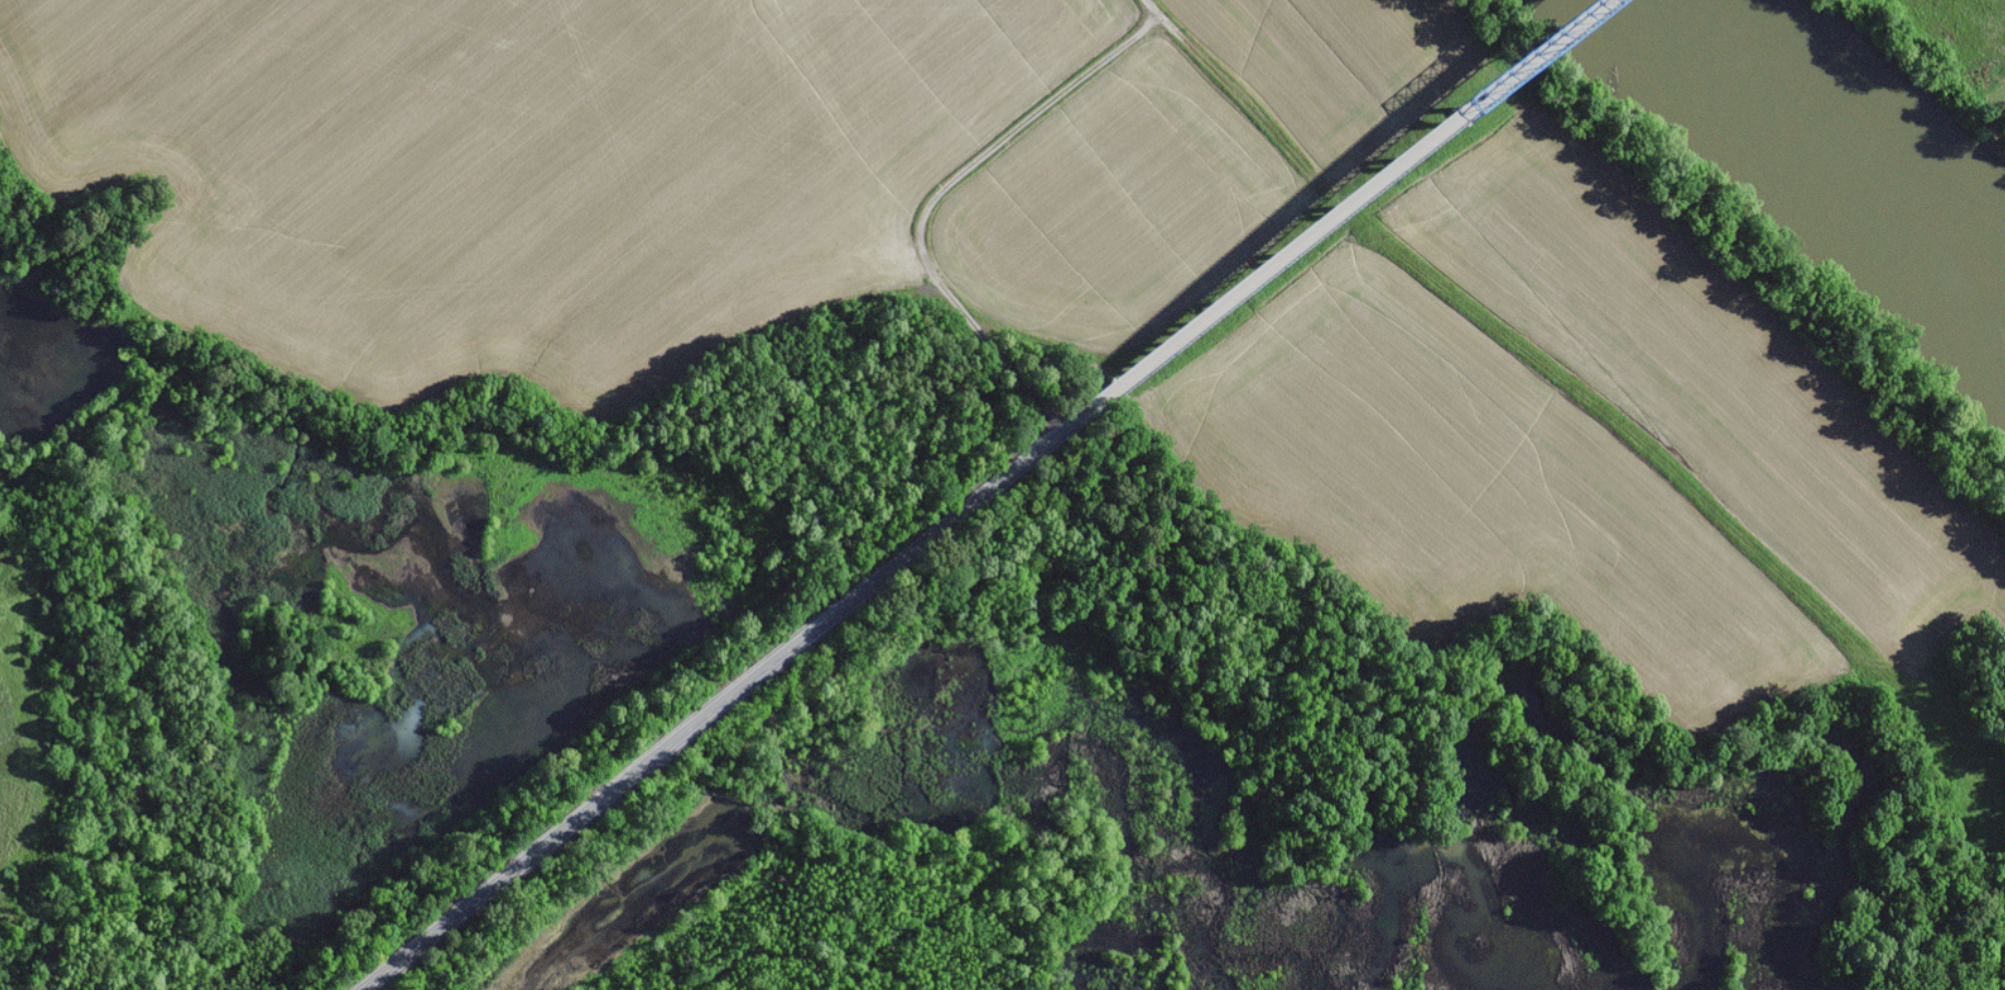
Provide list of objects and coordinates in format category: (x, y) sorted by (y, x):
river: (1835, 164)
road: (1346, 206)
road: (873, 219)
road: (724, 700)

